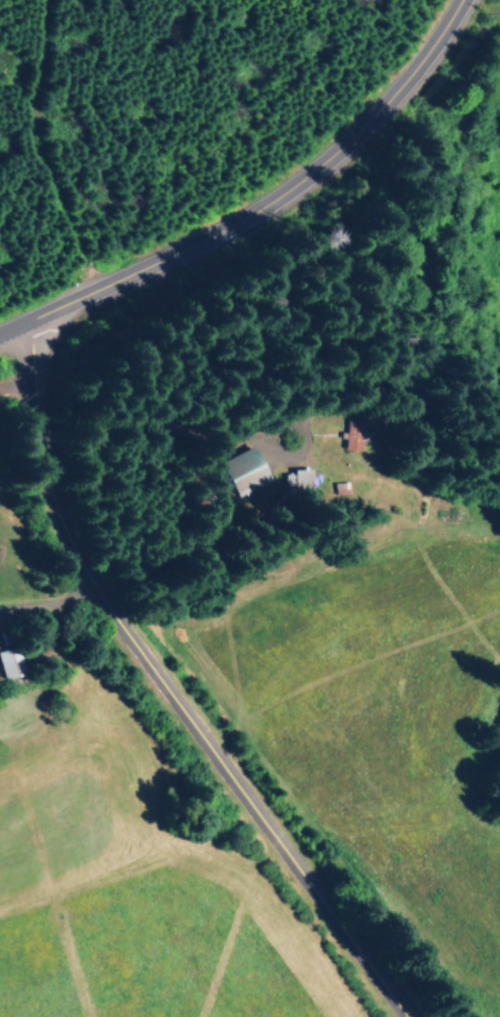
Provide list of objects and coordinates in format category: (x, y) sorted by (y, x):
road: (256, 206)
building: (351, 435)
building: (242, 471)
building: (296, 484)
road: (43, 604)
building: (9, 663)
road: (165, 697)

